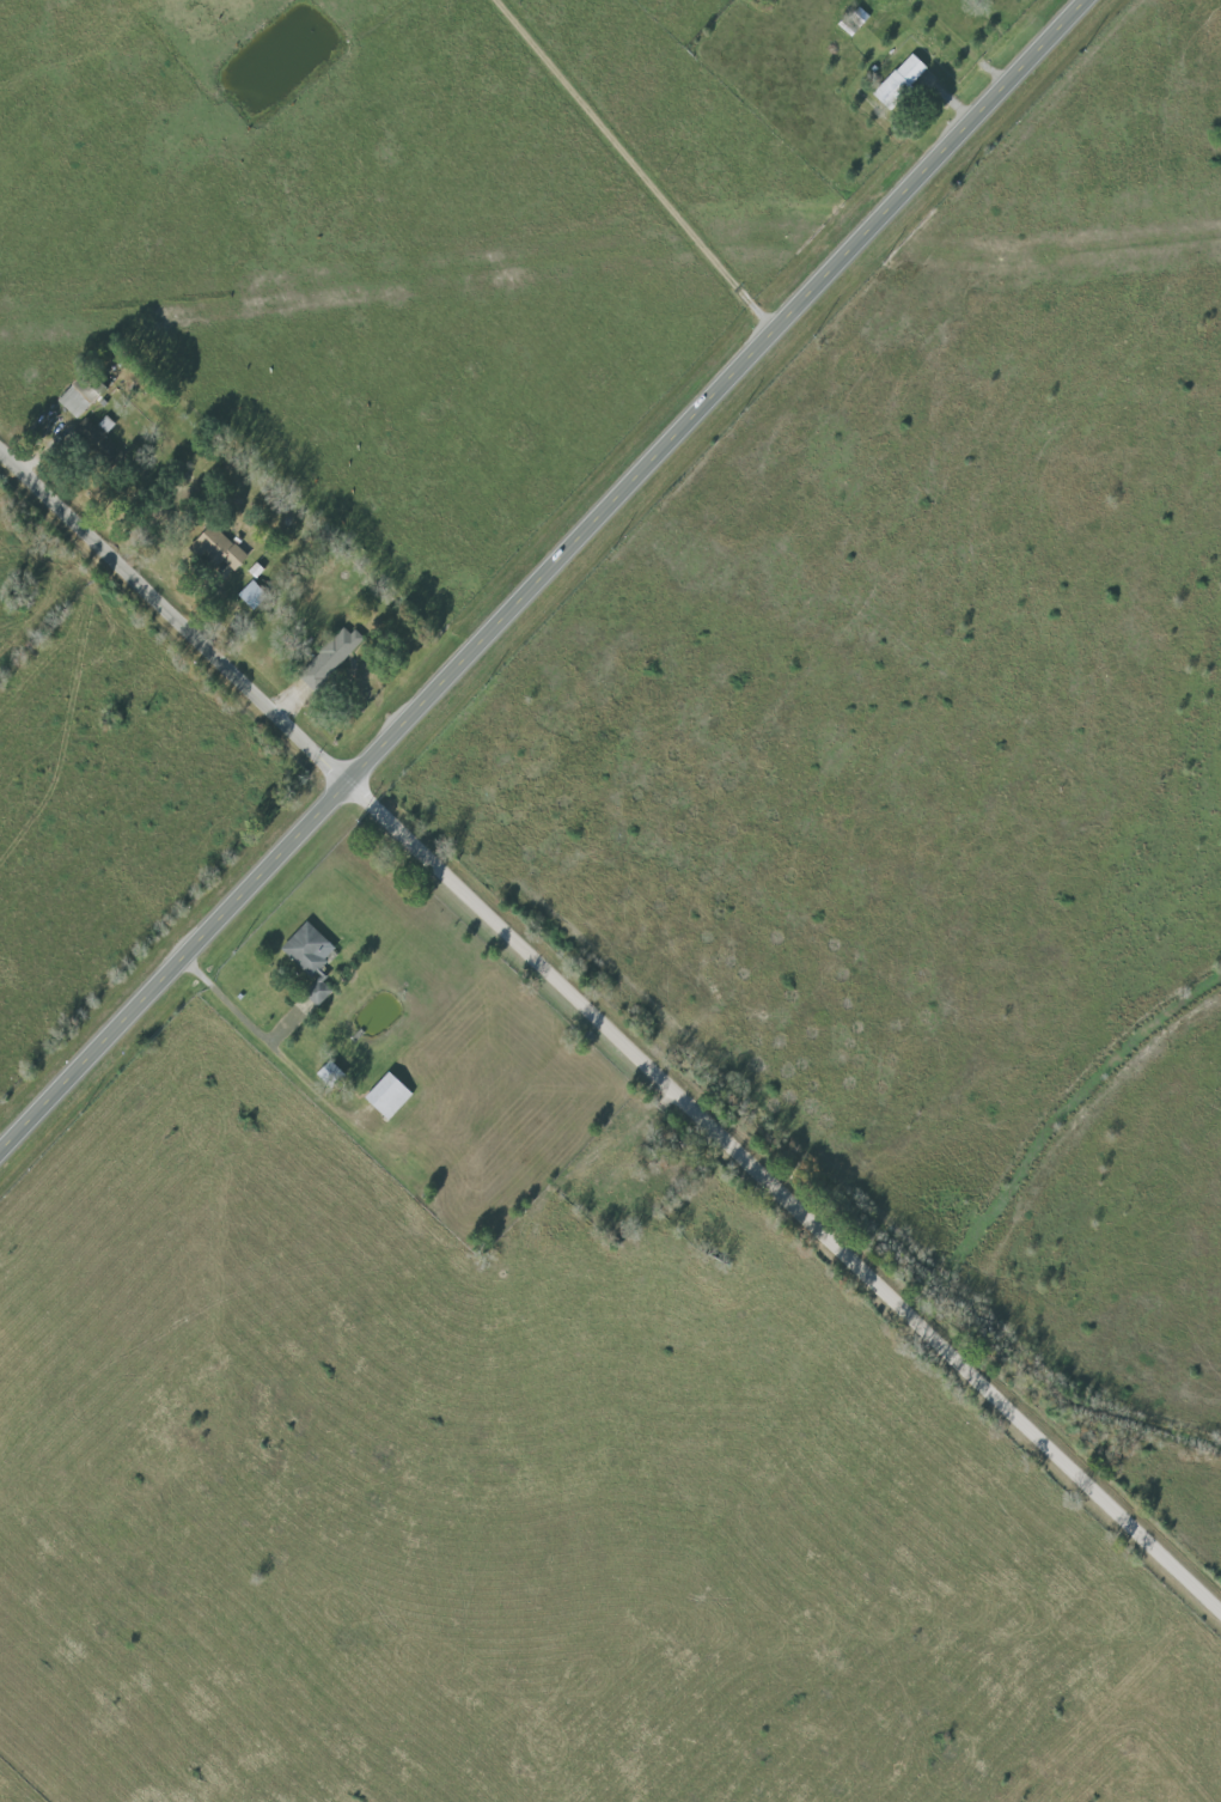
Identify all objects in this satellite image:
building: (902, 80)
road: (639, 166)
building: (80, 397)
building: (224, 548)
road: (544, 579)
building: (254, 595)
road: (176, 611)
building: (331, 658)
building: (313, 958)
road: (244, 1012)
building: (392, 1095)
road: (788, 1192)

